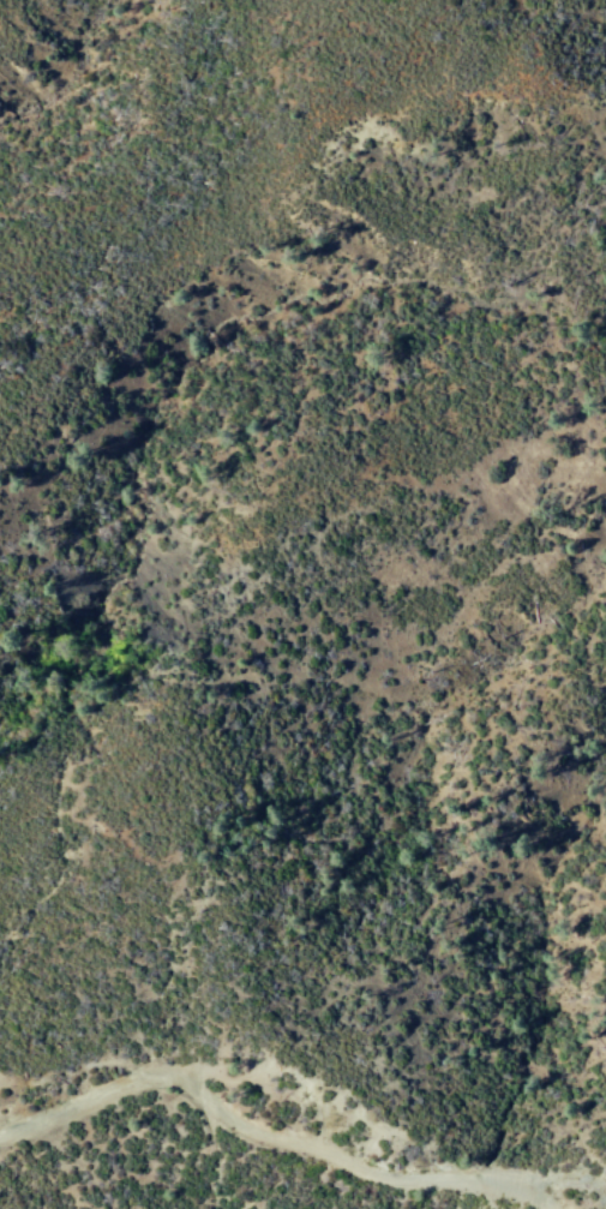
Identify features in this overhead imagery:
road: (271, 1136)

